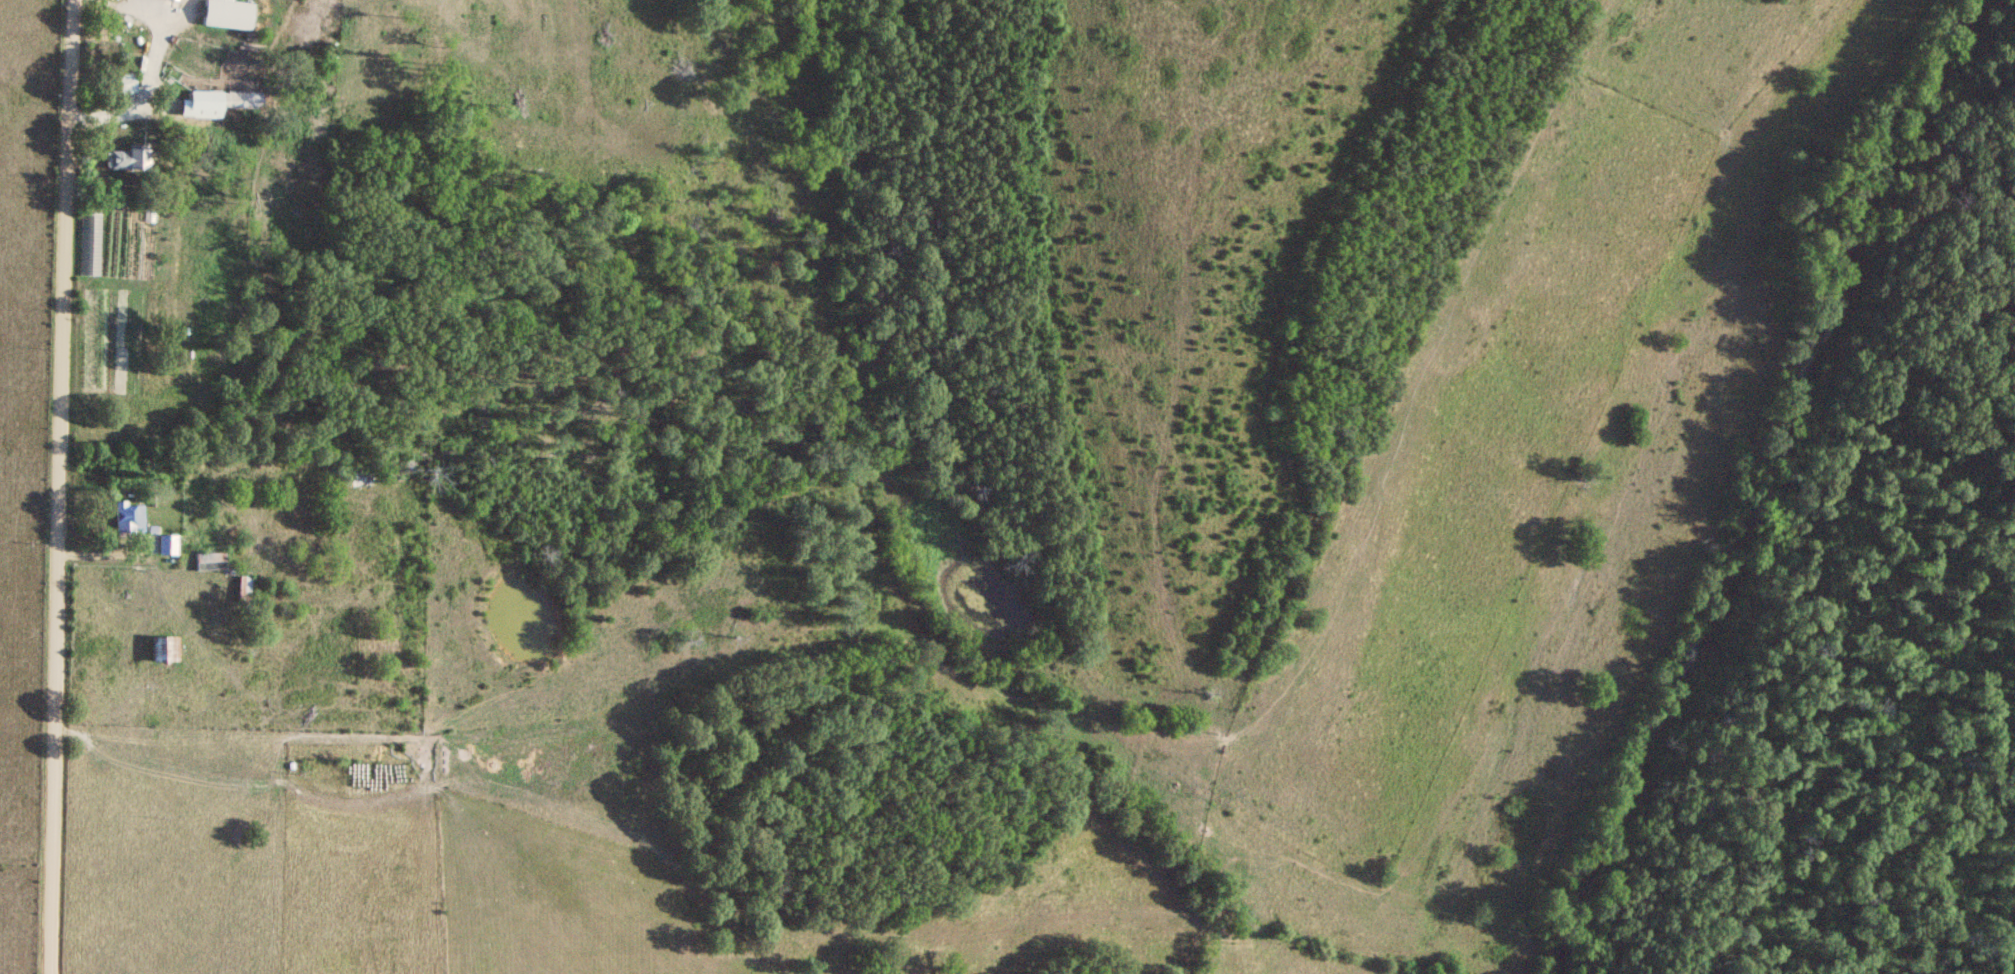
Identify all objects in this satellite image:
building: (230, 15)
building: (129, 85)
building: (243, 100)
building: (206, 101)
road: (102, 116)
building: (130, 160)
road: (62, 486)
building: (131, 520)
building: (169, 546)
road: (101, 554)
building: (209, 565)
building: (245, 588)

